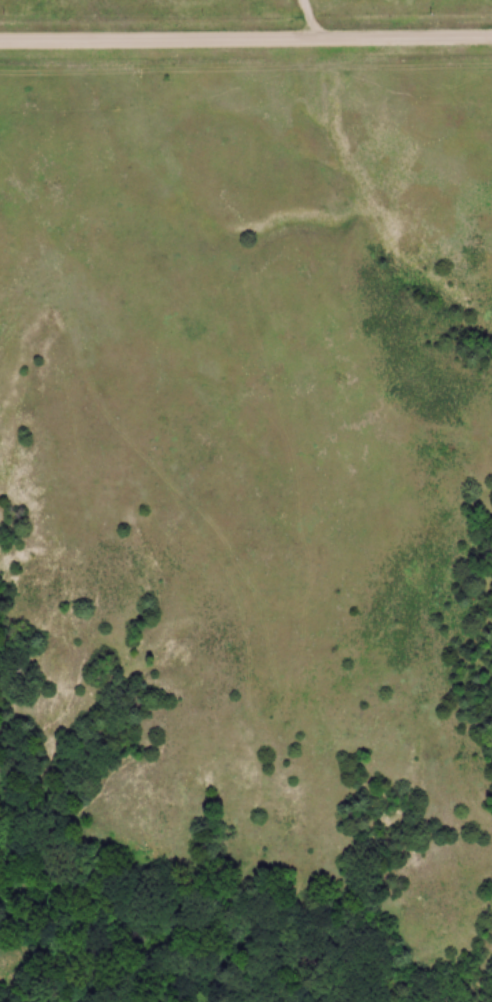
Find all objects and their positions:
road: (246, 47)

